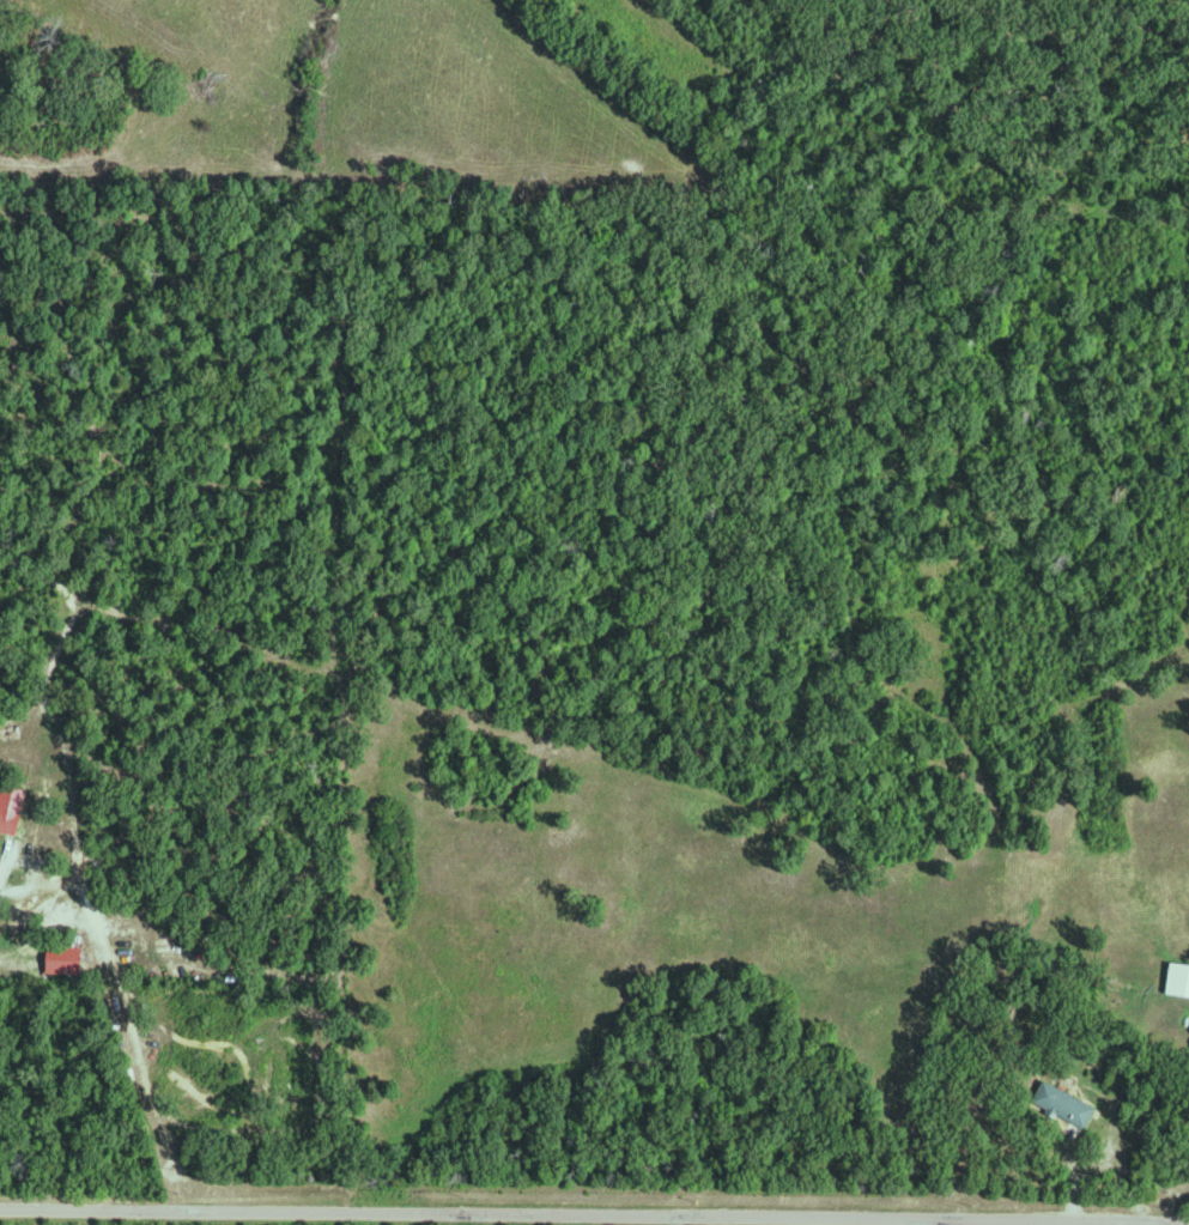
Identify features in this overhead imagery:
building: (13, 808)
building: (67, 959)
building: (1181, 978)
road: (73, 1085)
building: (1069, 1103)
road: (1157, 1197)
road: (594, 1215)

